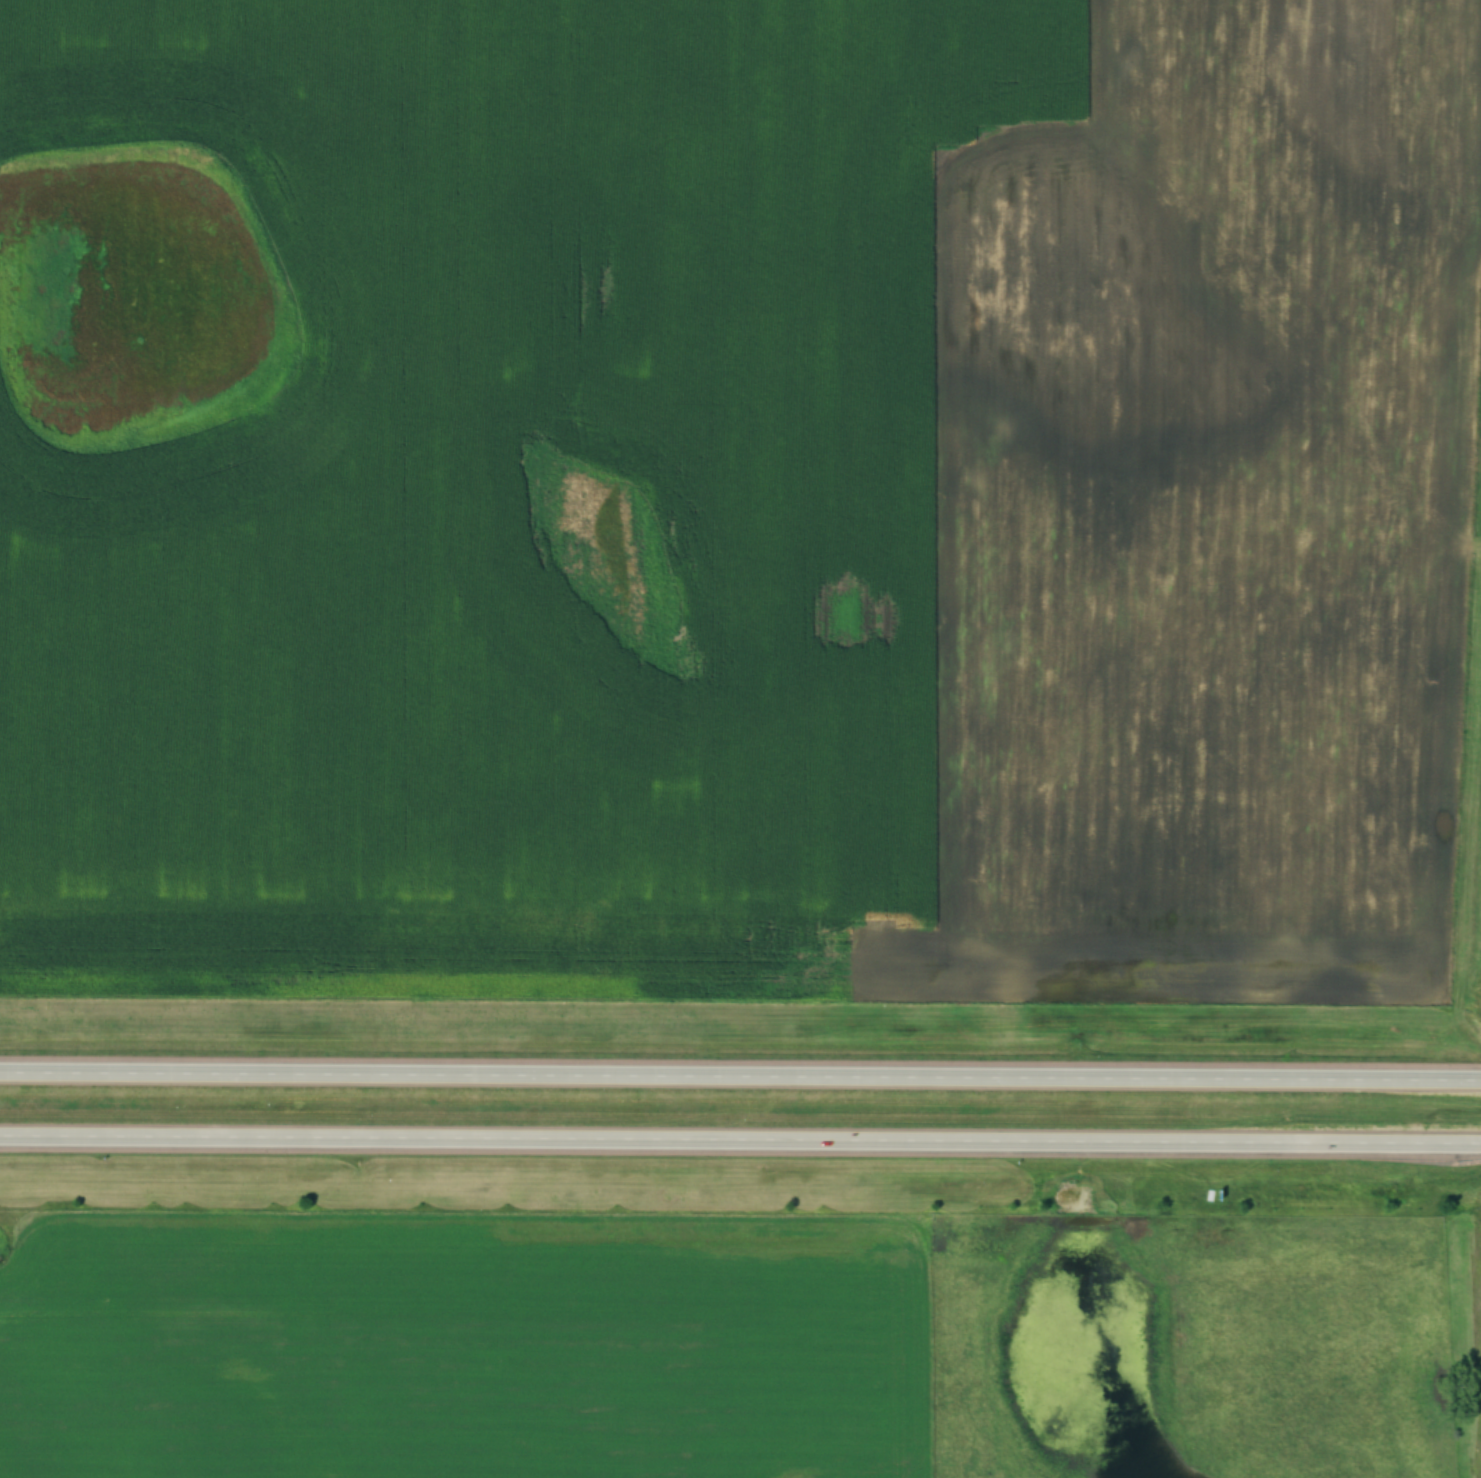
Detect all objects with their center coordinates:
road: (740, 1073)
road: (740, 1136)
crop: (462, 1346)

